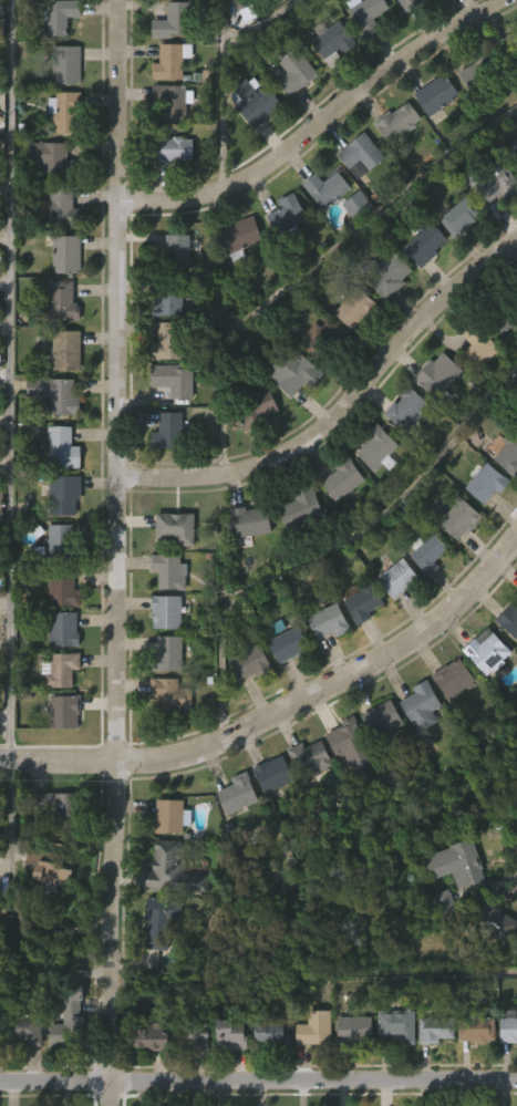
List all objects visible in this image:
building: (483, 0)
building: (494, 0)
building: (277, 2)
building: (411, 3)
building: (1, 8)
building: (239, 10)
building: (451, 11)
building: (368, 13)
building: (61, 15)
building: (174, 20)
building: (162, 23)
building: (1, 28)
building: (410, 30)
building: (331, 41)
building: (510, 49)
building: (362, 56)
building: (172, 62)
building: (68, 63)
building: (478, 70)
building: (297, 71)
road: (227, 79)
building: (328, 85)
building: (435, 94)
building: (515, 96)
building: (174, 99)
building: (258, 103)
building: (66, 110)
building: (290, 116)
building: (469, 117)
building: (399, 121)
road: (323, 127)
building: (431, 138)
building: (250, 146)
building: (513, 148)
building: (173, 149)
building: (363, 152)
building: (54, 158)
building: (393, 165)
building: (498, 184)
building: (327, 187)
building: (32, 192)
building: (166, 193)
building: (359, 204)
building: (63, 207)
building: (290, 214)
building: (461, 215)
building: (493, 228)
building: (320, 232)
building: (241, 236)
building: (425, 244)
building: (178, 248)
building: (349, 248)
building: (68, 254)
building: (281, 259)
building: (453, 260)
road: (316, 268)
building: (387, 275)
building: (235, 279)
building: (420, 289)
building: (169, 298)
building: (63, 300)
building: (356, 307)
building: (500, 313)
building: (384, 319)
building: (322, 339)
building: (169, 341)
building: (477, 344)
building: (68, 350)
building: (351, 353)
building: (496, 368)
building: (296, 371)
building: (440, 375)
building: (175, 378)
road: (9, 380)
building: (317, 383)
building: (473, 389)
building: (56, 394)
building: (256, 407)
building: (409, 409)
building: (289, 416)
road: (343, 418)
building: (432, 418)
building: (170, 431)
building: (379, 446)
building: (64, 448)
building: (508, 452)
building: (252, 453)
building: (402, 453)
building: (163, 475)
building: (344, 477)
building: (488, 483)
building: (65, 494)
building: (372, 494)
building: (1, 495)
building: (505, 497)
building: (303, 506)
building: (462, 518)
building: (254, 520)
building: (338, 523)
building: (482, 527)
building: (176, 528)
building: (61, 542)
road: (324, 542)
building: (296, 551)
building: (430, 551)
road: (117, 552)
building: (455, 562)
building: (245, 566)
building: (170, 571)
building: (401, 578)
building: (64, 590)
building: (423, 597)
building: (361, 601)
building: (167, 612)
building: (509, 621)
building: (331, 622)
building: (393, 622)
building: (63, 629)
building: (289, 641)
building: (358, 648)
building: (169, 654)
building: (489, 654)
building: (252, 663)
building: (507, 664)
building: (323, 665)
building: (62, 670)
building: (455, 679)
building: (283, 688)
building: (172, 694)
building: (483, 695)
building: (244, 706)
building: (424, 706)
building: (62, 711)
road: (282, 714)
building: (385, 720)
building: (448, 722)
building: (165, 737)
building: (352, 744)
building: (417, 751)
building: (59, 756)
building: (311, 756)
building: (376, 763)
building: (275, 774)
building: (343, 787)
building: (239, 795)
building: (304, 802)
building: (60, 809)
building: (169, 816)
building: (268, 818)
building: (232, 838)
building: (48, 848)
building: (461, 864)
building: (170, 868)
building: (45, 870)
building: (448, 903)
building: (43, 911)
building: (158, 921)
building: (499, 921)
building: (155, 965)
building: (493, 965)
road: (55, 971)
road: (462, 972)
building: (71, 1019)
building: (400, 1023)
building: (23, 1024)
building: (313, 1027)
building: (478, 1027)
building: (352, 1029)
building: (437, 1029)
building: (509, 1029)
building: (266, 1034)
building: (229, 1035)
building: (149, 1037)
building: (189, 1037)
building: (63, 1060)
building: (393, 1068)
building: (310, 1072)
building: (349, 1072)
building: (431, 1072)
building: (506, 1073)
building: (21, 1074)
building: (472, 1074)
building: (226, 1078)
road: (258, 1078)
building: (267, 1078)
building: (192, 1081)
building: (146, 1082)

